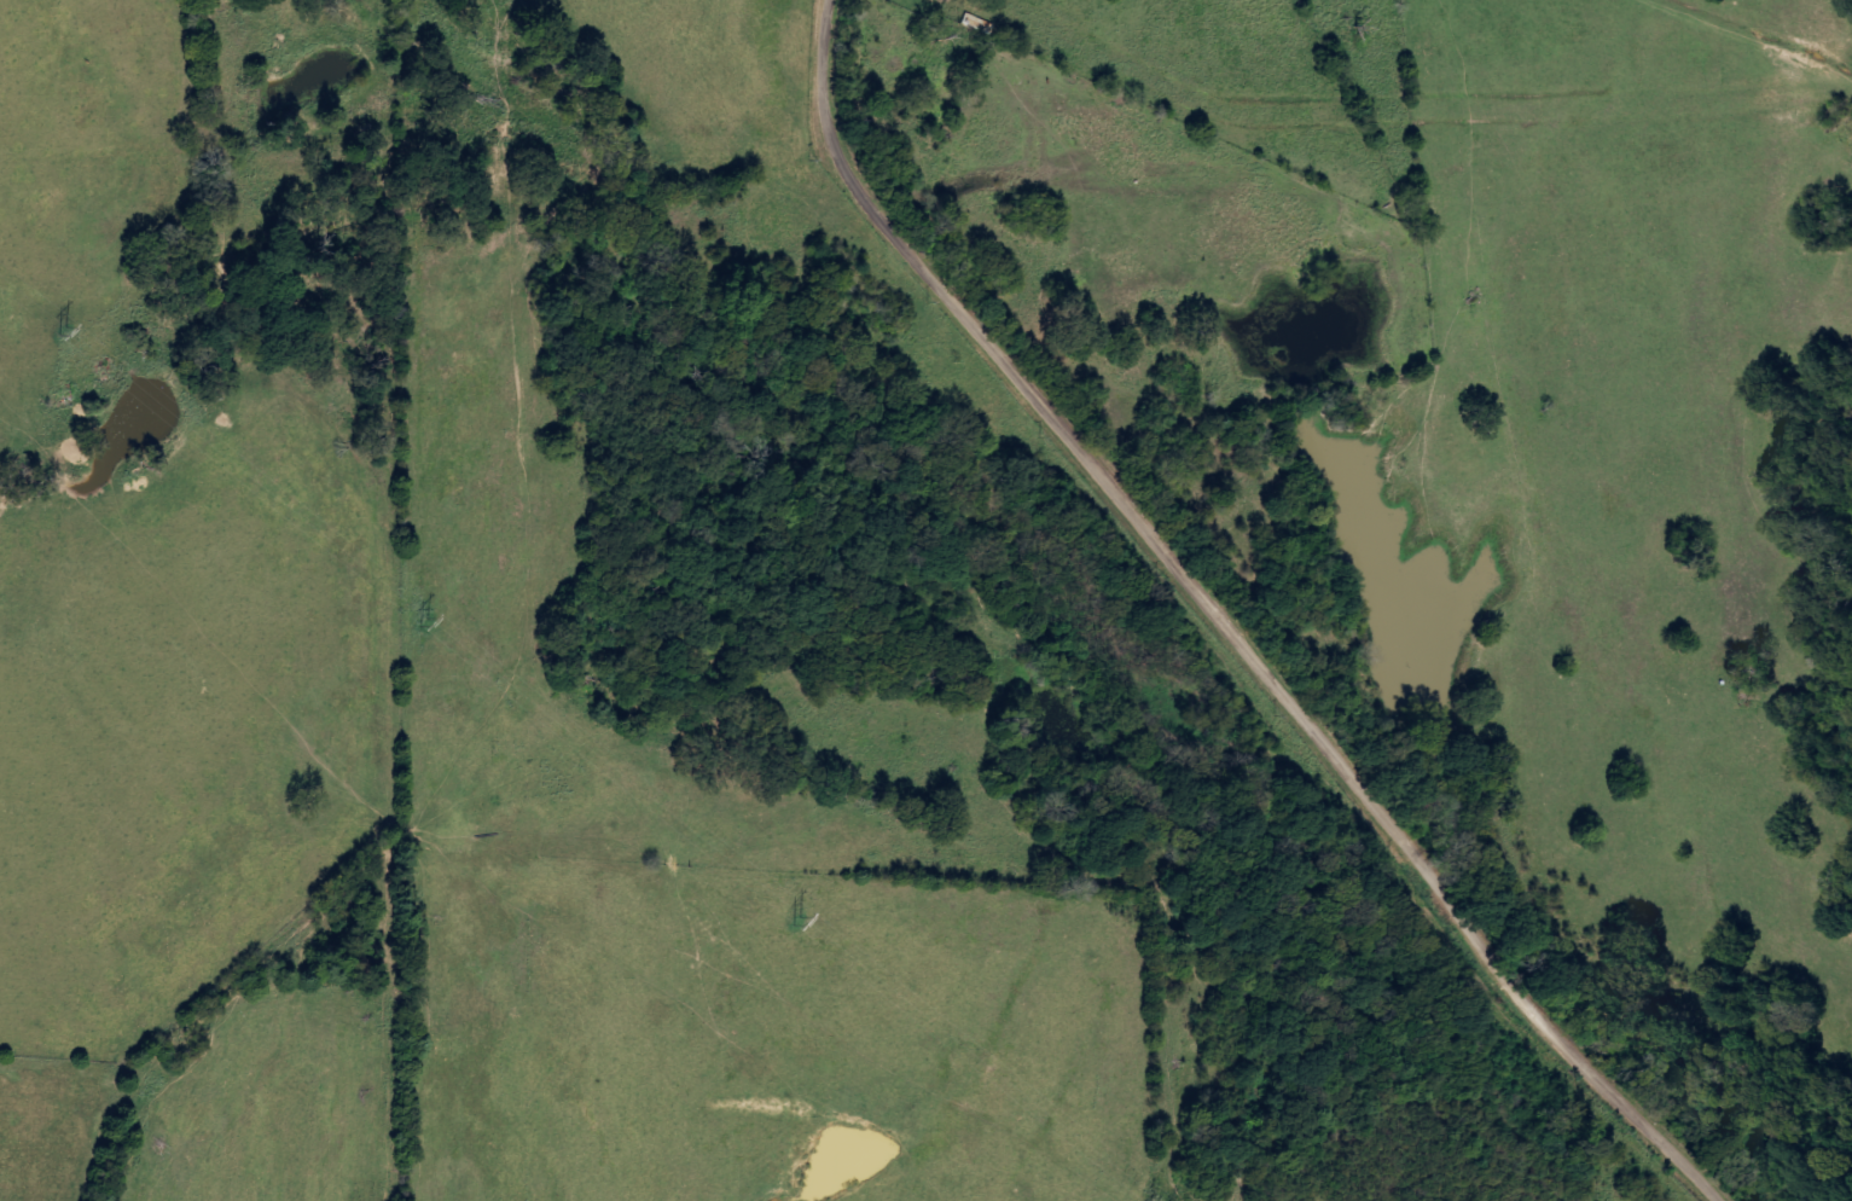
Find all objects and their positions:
power tower: (62, 331)
road: (1195, 610)
power tower: (423, 621)
power tower: (796, 921)

